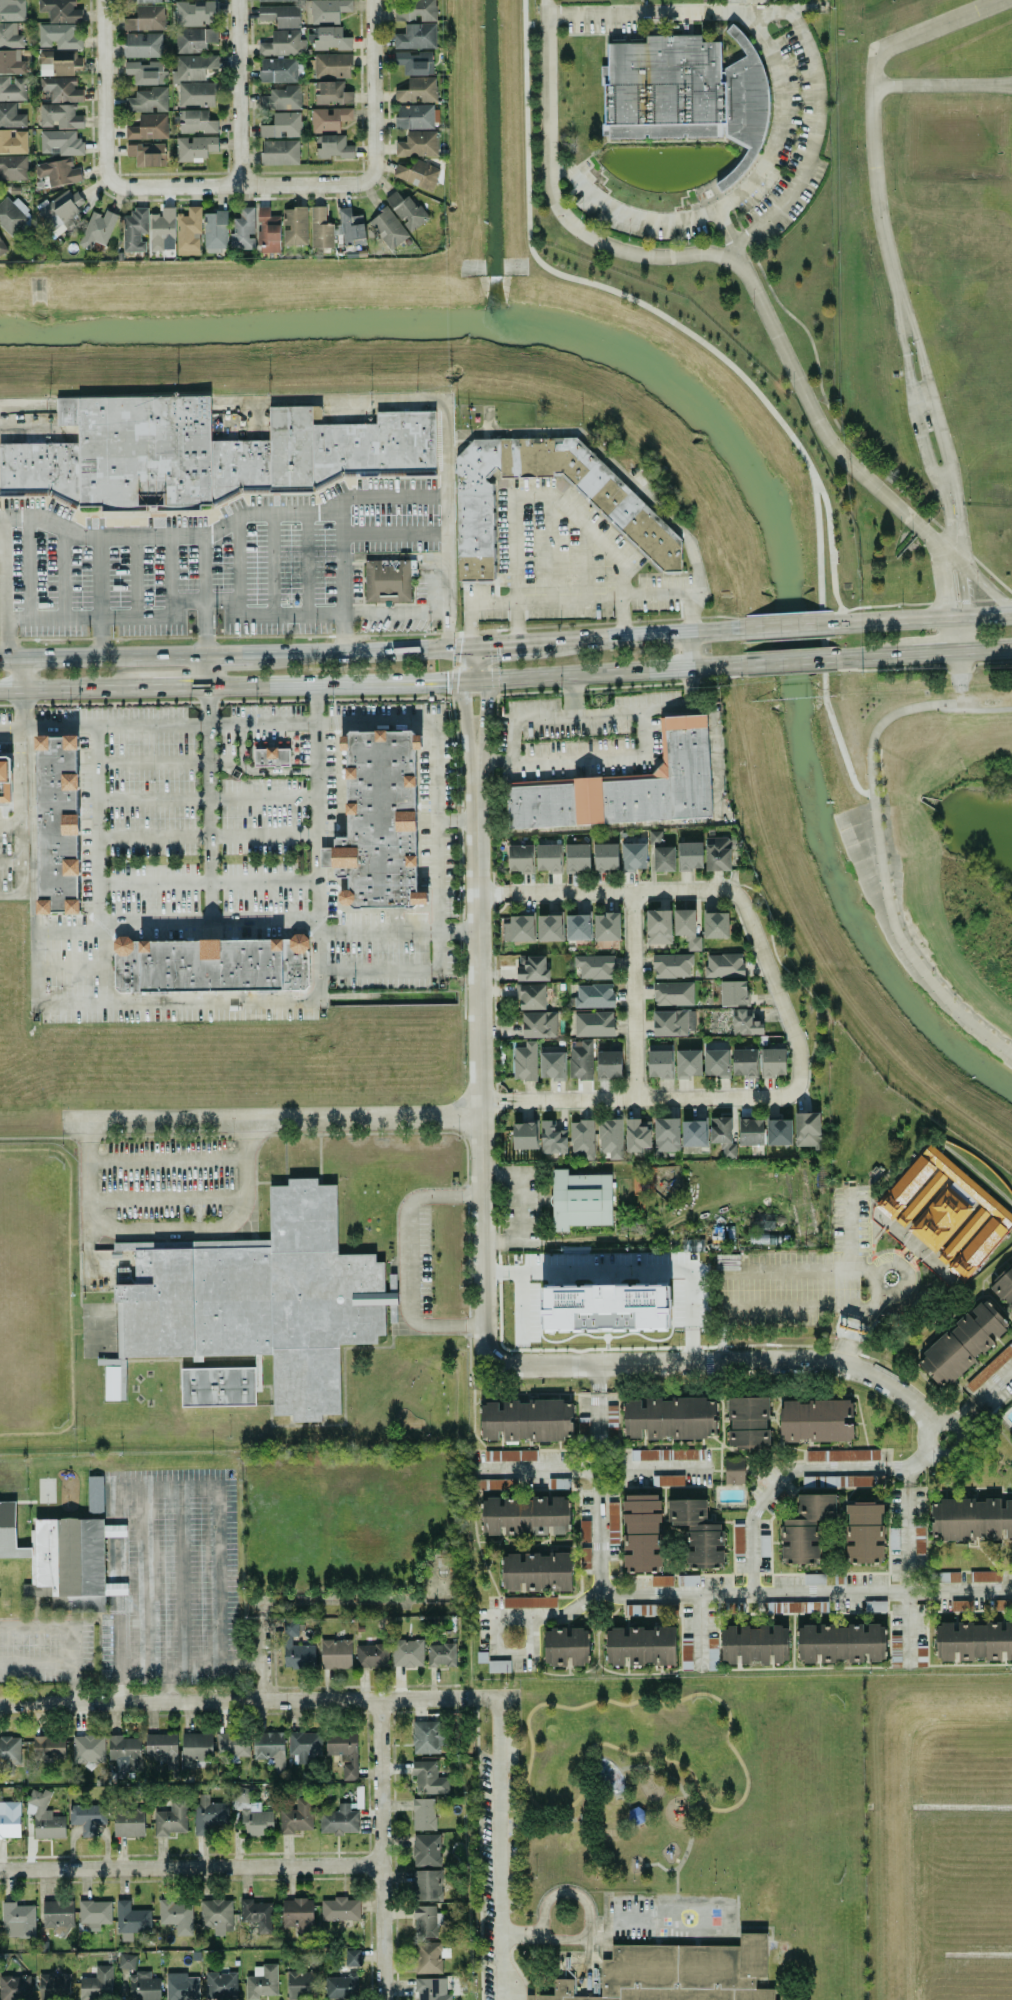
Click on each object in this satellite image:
building: (274, 0)
building: (140, 1)
building: (743, 1)
building: (12, 10)
building: (60, 10)
building: (328, 10)
building: (413, 10)
building: (194, 12)
building: (280, 15)
building: (145, 18)
road: (796, 24)
building: (11, 34)
building: (58, 36)
building: (415, 36)
building: (330, 38)
building: (194, 39)
building: (283, 43)
building: (142, 45)
building: (11, 62)
building: (414, 62)
building: (58, 64)
building: (331, 65)
building: (277, 70)
building: (145, 72)
building: (194, 79)
road: (941, 85)
building: (12, 88)
building: (61, 88)
road: (373, 88)
building: (417, 90)
road: (104, 92)
road: (238, 92)
building: (330, 92)
building: (686, 93)
building: (281, 98)
building: (147, 100)
building: (11, 116)
building: (59, 116)
building: (414, 116)
building: (329, 118)
building: (197, 122)
building: (282, 125)
building: (148, 127)
building: (13, 141)
building: (60, 142)
building: (417, 143)
building: (332, 146)
building: (194, 147)
building: (279, 152)
building: (146, 154)
wastewater plant: (697, 161)
building: (13, 167)
building: (58, 171)
building: (417, 174)
road: (241, 184)
road: (735, 197)
building: (61, 210)
building: (406, 210)
building: (12, 216)
building: (294, 226)
building: (98, 227)
building: (351, 227)
building: (388, 227)
building: (320, 228)
building: (134, 229)
building: (162, 229)
building: (215, 230)
building: (243, 230)
building: (188, 231)
building: (268, 231)
road: (729, 235)
road: (884, 244)
building: (1, 247)
wastewater plant: (926, 248)
road: (697, 253)
road: (654, 310)
river: (246, 325)
road: (339, 400)
road: (22, 413)
building: (208, 454)
road: (545, 493)
building: (615, 501)
road: (450, 522)
road: (223, 531)
road: (395, 533)
road: (928, 540)
road: (1, 550)
road: (939, 556)
road: (341, 563)
road: (4, 576)
building: (387, 580)
road: (562, 600)
road: (961, 605)
road: (694, 612)
road: (921, 614)
road: (229, 623)
road: (786, 625)
road: (641, 633)
road: (344, 635)
road: (204, 640)
road: (831, 640)
road: (505, 642)
traffic signals: (470, 645)
road: (988, 647)
road: (371, 649)
road: (693, 649)
road: (939, 651)
road: (238, 655)
road: (873, 656)
road: (101, 657)
road: (477, 662)
road: (787, 662)
road: (465, 663)
road: (204, 670)
road: (612, 671)
river: (789, 672)
road: (17, 673)
traffic signals: (484, 679)
road: (472, 680)
traffic signals: (461, 681)
road: (332, 684)
road: (178, 685)
road: (76, 687)
road: (689, 707)
road: (973, 710)
road: (525, 718)
road: (482, 720)
road: (462, 721)
road: (295, 726)
road: (11, 730)
road: (636, 755)
building: (271, 757)
road: (150, 760)
building: (5, 778)
building: (625, 787)
road: (262, 794)
road: (152, 796)
road: (19, 800)
building: (379, 822)
building: (57, 823)
road: (10, 825)
road: (98, 827)
road: (208, 834)
park: (921, 850)
building: (660, 853)
building: (718, 853)
building: (690, 855)
building: (633, 856)
building: (548, 857)
building: (577, 857)
building: (605, 857)
building: (520, 858)
road: (10, 863)
road: (879, 874)
road: (263, 881)
road: (154, 882)
road: (209, 896)
road: (32, 898)
road: (263, 924)
building: (716, 925)
building: (549, 926)
building: (606, 926)
building: (658, 926)
building: (518, 927)
building: (577, 927)
building: (686, 928)
road: (396, 929)
road: (317, 947)
road: (440, 955)
building: (210, 964)
building: (672, 965)
building: (724, 965)
building: (594, 966)
road: (784, 967)
building: (532, 968)
building: (734, 992)
road: (633, 993)
building: (673, 993)
building: (594, 995)
building: (531, 996)
road: (787, 1014)
building: (672, 1022)
building: (745, 1022)
building: (593, 1023)
building: (539, 1024)
road: (478, 1042)
building: (660, 1060)
building: (524, 1061)
building: (582, 1061)
building: (716, 1062)
building: (744, 1062)
building: (773, 1062)
building: (687, 1063)
building: (609, 1064)
building: (552, 1065)
road: (270, 1118)
road: (470, 1126)
building: (807, 1129)
building: (751, 1131)
building: (779, 1131)
building: (695, 1132)
road: (361, 1133)
building: (524, 1135)
building: (638, 1135)
building: (666, 1135)
building: (723, 1136)
building: (609, 1137)
building: (552, 1138)
building: (583, 1138)
road: (167, 1160)
road: (78, 1183)
building: (924, 1194)
road: (167, 1197)
building: (580, 1199)
road: (89, 1202)
road: (520, 1205)
building: (890, 1208)
building: (940, 1217)
road: (214, 1228)
building: (966, 1231)
road: (78, 1240)
building: (692, 1243)
road: (848, 1256)
road: (407, 1260)
road: (633, 1262)
road: (797, 1269)
building: (1004, 1286)
road: (890, 1291)
road: (68, 1294)
building: (262, 1305)
road: (784, 1306)
building: (607, 1307)
park: (100, 1328)
road: (75, 1331)
building: (962, 1343)
road: (713, 1362)
building: (990, 1367)
building: (669, 1417)
building: (527, 1420)
building: (816, 1420)
building: (748, 1422)
building: (582, 1426)
building: (611, 1433)
building: (664, 1454)
building: (510, 1455)
building: (842, 1455)
road: (592, 1466)
building: (734, 1470)
road: (791, 1472)
road: (598, 1479)
road: (168, 1486)
building: (95, 1493)
road: (915, 1493)
building: (525, 1515)
building: (971, 1518)
building: (805, 1527)
building: (584, 1530)
building: (641, 1532)
building: (864, 1532)
building: (697, 1533)
building: (738, 1538)
building: (919, 1540)
building: (584, 1557)
building: (62, 1558)
building: (536, 1571)
building: (943, 1576)
building: (985, 1576)
building: (813, 1579)
building: (661, 1580)
building: (688, 1580)
building: (115, 1588)
road: (769, 1590)
road: (168, 1593)
building: (529, 1602)
building: (787, 1607)
building: (653, 1609)
road: (701, 1625)
road: (71, 1631)
building: (973, 1641)
building: (841, 1642)
building: (754, 1644)
building: (640, 1645)
building: (566, 1646)
building: (294, 1647)
building: (407, 1652)
building: (686, 1652)
building: (335, 1653)
road: (530, 1653)
building: (371, 1654)
building: (441, 1654)
road: (260, 1660)
road: (36, 1665)
building: (498, 1666)
road: (258, 1700)
road: (728, 1732)
building: (425, 1737)
building: (232, 1744)
building: (303, 1746)
building: (48, 1747)
building: (88, 1748)
building: (162, 1748)
building: (195, 1748)
building: (270, 1748)
building: (125, 1753)
building: (344, 1753)
building: (9, 1754)
road: (597, 1757)
road: (657, 1772)
building: (428, 1778)
road: (627, 1802)
road: (696, 1803)
road: (690, 1807)
building: (250, 1812)
building: (423, 1813)
building: (209, 1814)
building: (44, 1816)
building: (297, 1816)
building: (87, 1817)
building: (171, 1817)
building: (9, 1819)
building: (339, 1820)
building: (128, 1822)
road: (499, 1847)
road: (380, 1849)
building: (426, 1849)
road: (678, 1860)
road: (660, 1865)
road: (190, 1867)
building: (427, 1884)
road: (586, 1904)
building: (339, 1908)
building: (256, 1912)
building: (297, 1912)
building: (94, 1913)
building: (58, 1914)
building: (216, 1914)
building: (176, 1915)
road: (737, 1918)
building: (18, 1919)
building: (131, 1920)
building: (426, 1921)
road: (581, 1939)
building: (429, 1956)
building: (352, 1957)
building: (126, 1961)
building: (680, 1973)
building: (262, 1982)
building: (303, 1982)
building: (96, 1984)
building: (53, 1985)
building: (220, 1985)
building: (144, 1986)
building: (341, 1986)
building: (15, 1987)
building: (182, 1988)
building: (433, 1988)
building: (530, 1996)

